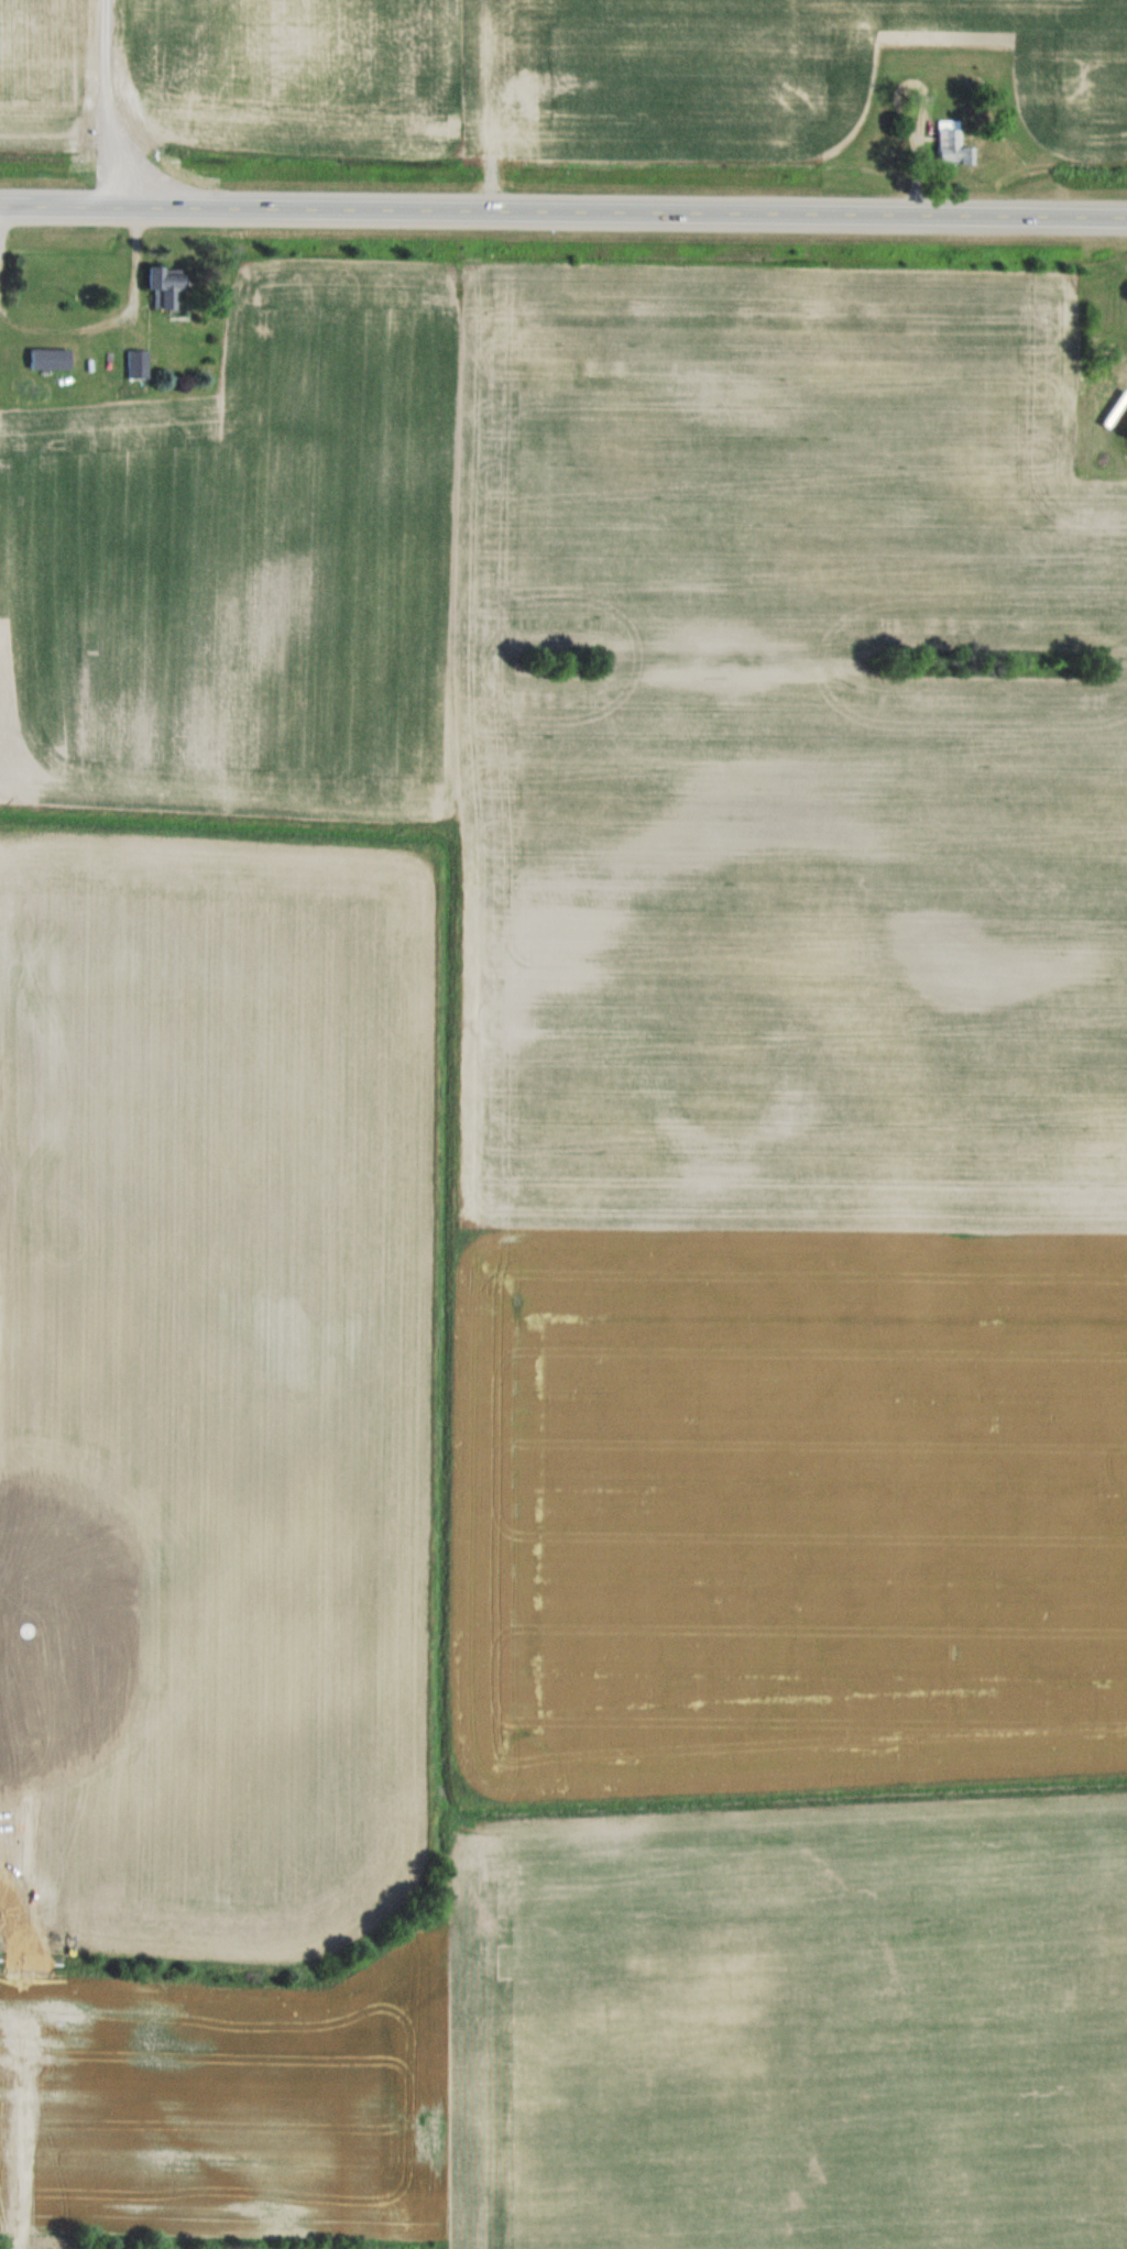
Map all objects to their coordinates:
building: (948, 146)
road: (563, 215)
building: (158, 286)
building: (1106, 356)
building: (45, 358)
building: (134, 363)
building: (1124, 424)
wind turbine: (29, 1631)

